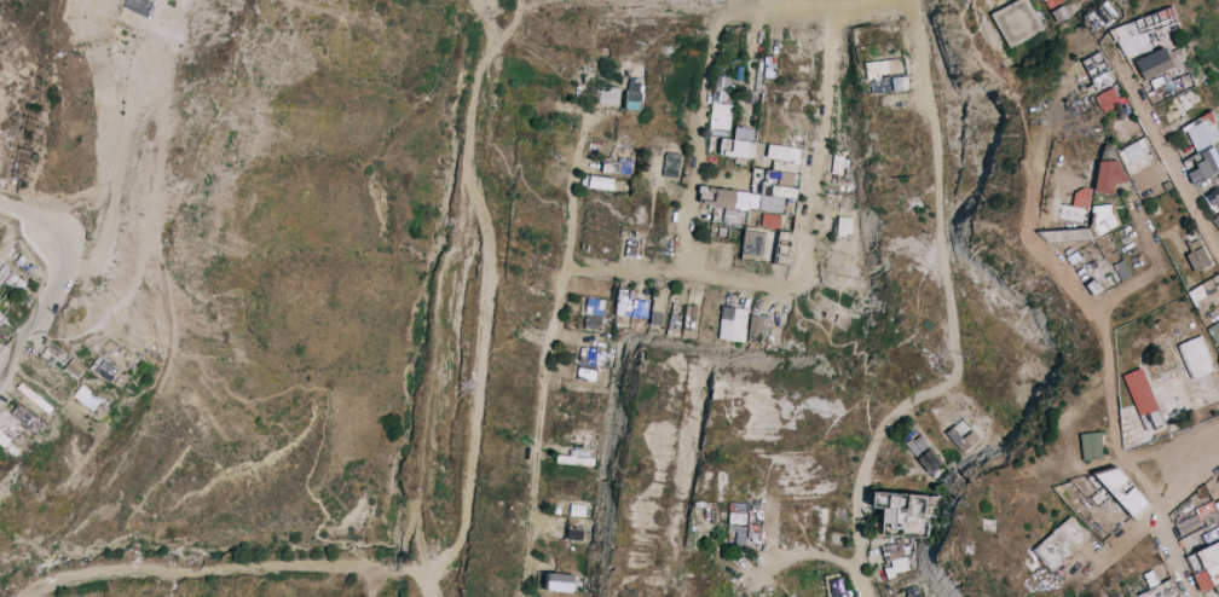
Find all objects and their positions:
power tower: (51, 110)
power tower: (44, 151)

